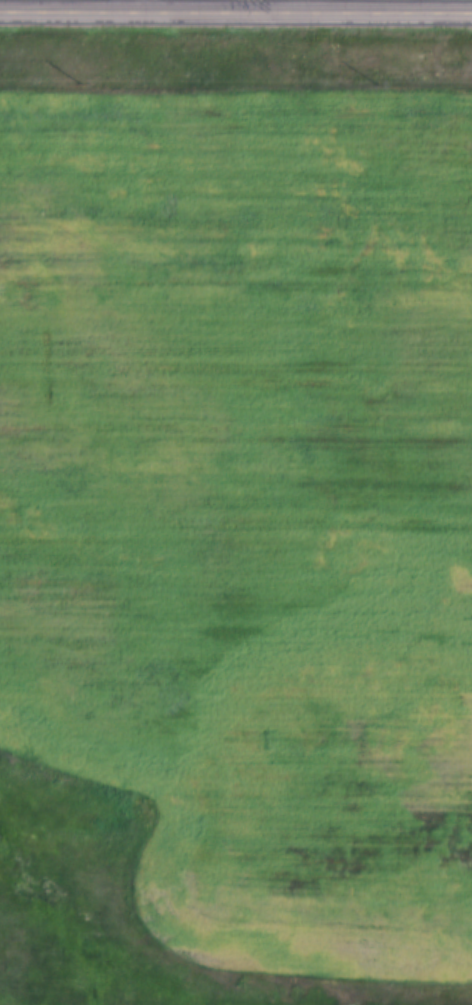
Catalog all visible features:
road: (134, 1)
road: (236, 3)

